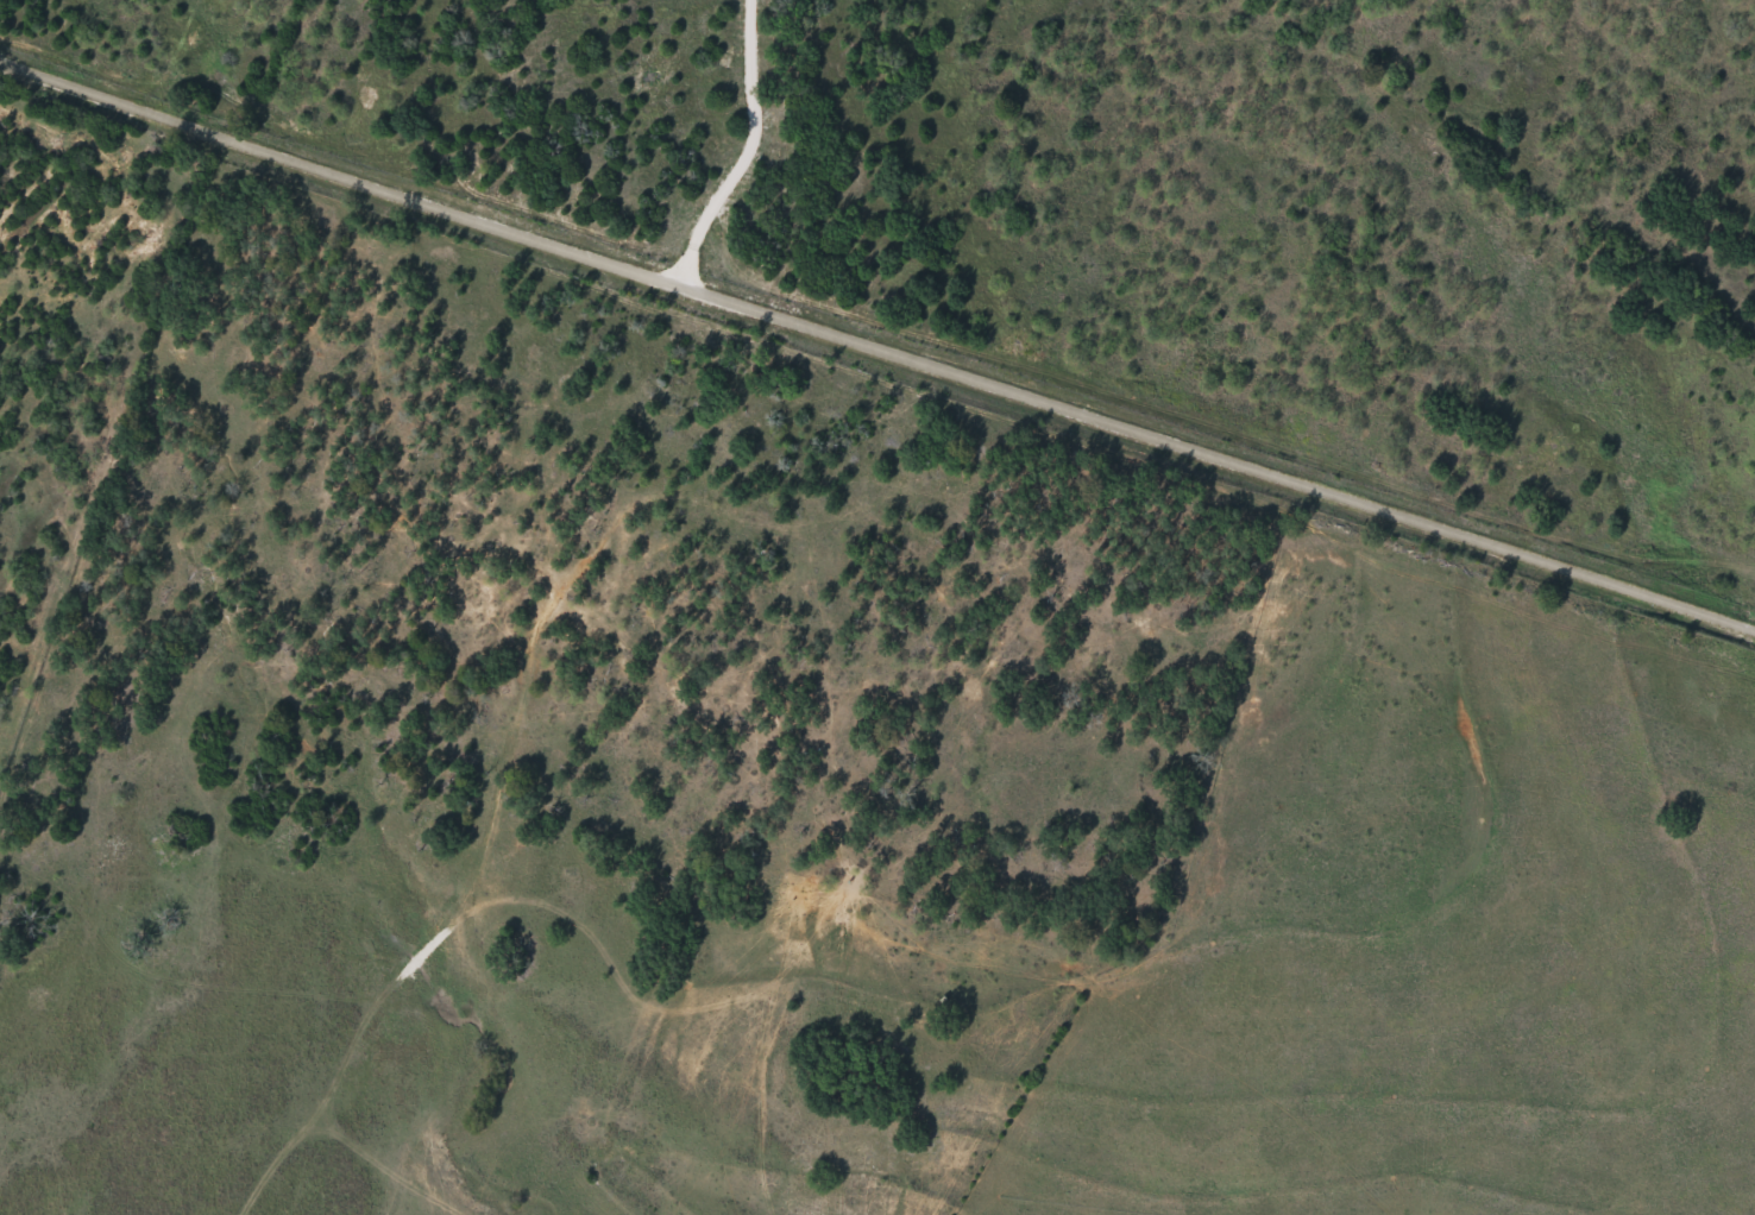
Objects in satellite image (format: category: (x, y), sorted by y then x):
road: (877, 346)

